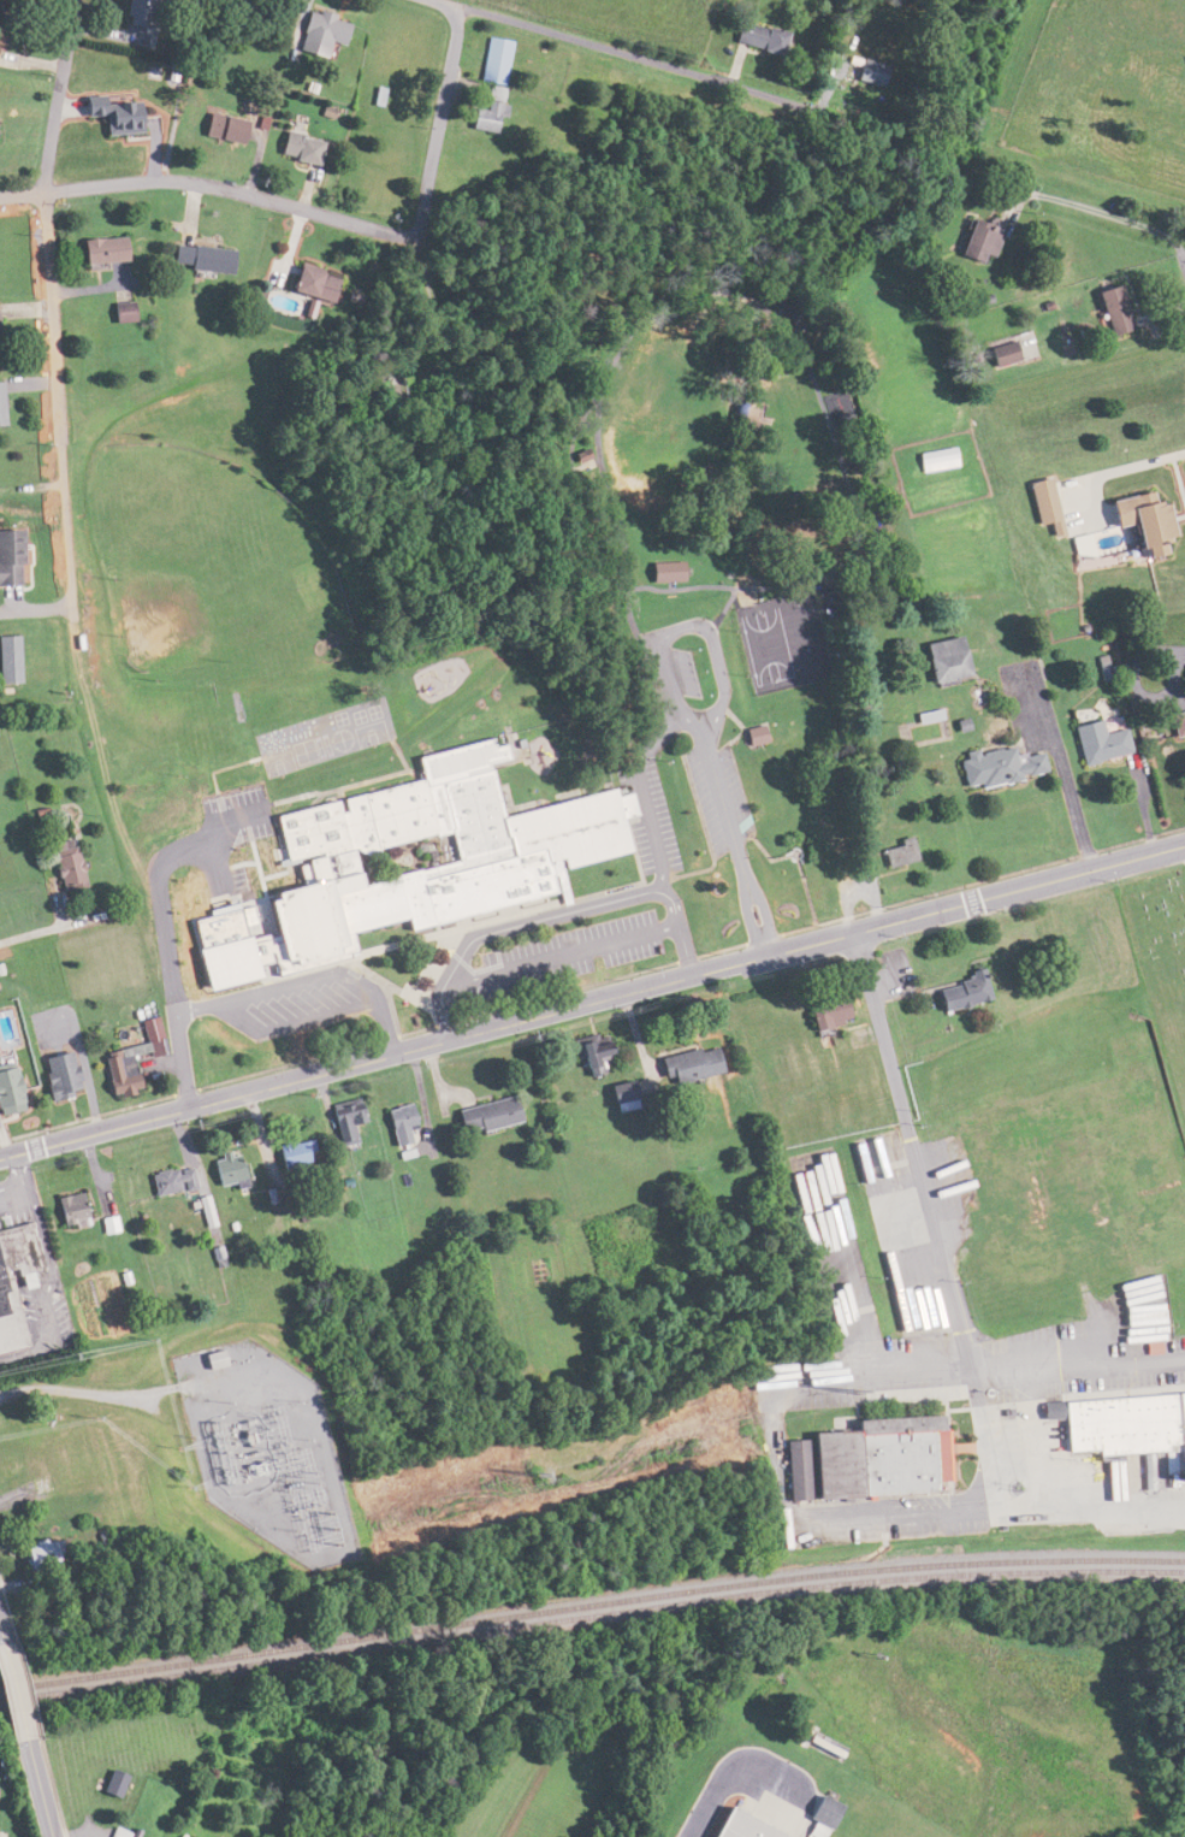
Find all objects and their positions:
building: (135, 11)
building: (2, 26)
building: (320, 33)
building: (758, 36)
road: (634, 55)
building: (869, 70)
building: (492, 84)
building: (112, 113)
road: (439, 124)
building: (223, 128)
building: (298, 147)
road: (211, 185)
road: (1104, 212)
building: (979, 241)
building: (100, 250)
road: (1184, 254)
building: (200, 258)
building: (310, 283)
road: (741, 296)
road: (52, 302)
building: (1112, 309)
building: (120, 312)
building: (1002, 354)
building: (0, 404)
road: (582, 418)
building: (748, 418)
building: (935, 459)
road: (608, 489)
building: (800, 496)
building: (1043, 504)
building: (1138, 526)
road: (859, 532)
building: (10, 557)
park: (201, 557)
park: (735, 557)
building: (671, 571)
road: (728, 601)
road: (662, 638)
park: (782, 642)
building: (8, 658)
building: (942, 660)
parking lot: (663, 681)
building: (1177, 723)
road: (743, 726)
building: (760, 734)
building: (1097, 742)
building: (995, 767)
road: (638, 781)
road: (1065, 781)
parking lot: (717, 795)
road: (722, 807)
building: (158, 813)
building: (425, 853)
road: (765, 853)
building: (894, 853)
road: (793, 858)
building: (65, 866)
road: (695, 872)
road: (658, 878)
road: (662, 879)
road: (806, 892)
road: (182, 898)
road: (763, 908)
road: (745, 917)
road: (534, 921)
road: (765, 943)
road: (686, 949)
road: (562, 956)
park: (1159, 971)
road: (307, 977)
road: (592, 984)
building: (959, 992)
road: (592, 999)
building: (824, 1011)
building: (593, 1057)
building: (129, 1059)
road: (183, 1061)
building: (686, 1064)
building: (55, 1075)
building: (7, 1089)
building: (621, 1097)
building: (482, 1116)
building: (346, 1122)
building: (399, 1126)
building: (291, 1156)
building: (1070, 1168)
building: (229, 1170)
building: (171, 1180)
road: (18, 1185)
road: (924, 1197)
building: (69, 1210)
road: (48, 1266)
building: (5, 1288)
road: (26, 1349)
building: (212, 1359)
road: (1024, 1364)
building: (1127, 1428)
power substation: (266, 1447)
power substation: (260, 1449)
building: (871, 1460)
building: (36, 1555)
railway: (591, 1605)
road: (11, 1701)
road: (35, 1789)
building: (823, 1812)
building: (739, 1827)
building: (119, 1832)

